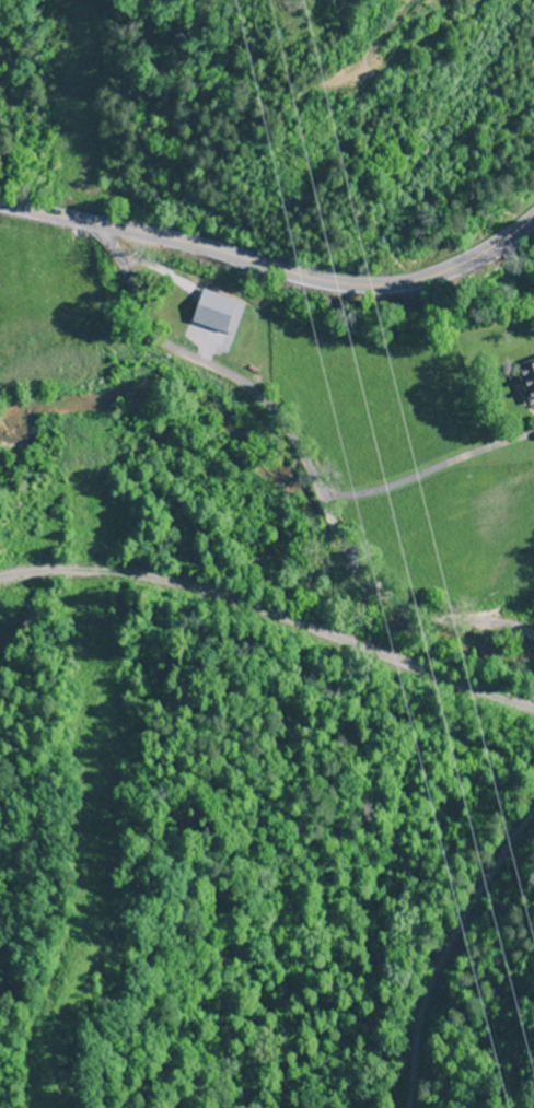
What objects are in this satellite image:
road: (272, 267)
building: (525, 381)
road: (292, 460)
road: (427, 474)
road: (272, 608)
railway: (267, 613)

